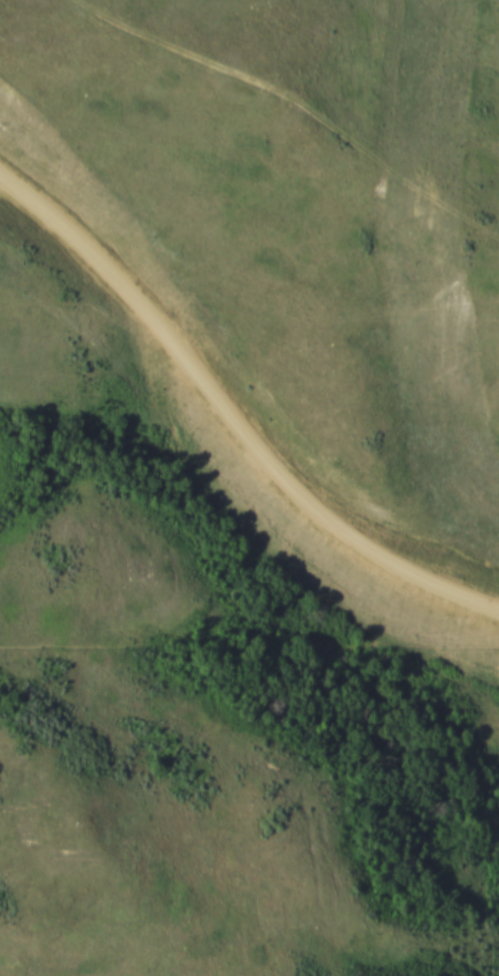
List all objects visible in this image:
road: (301, 106)
road: (225, 434)

